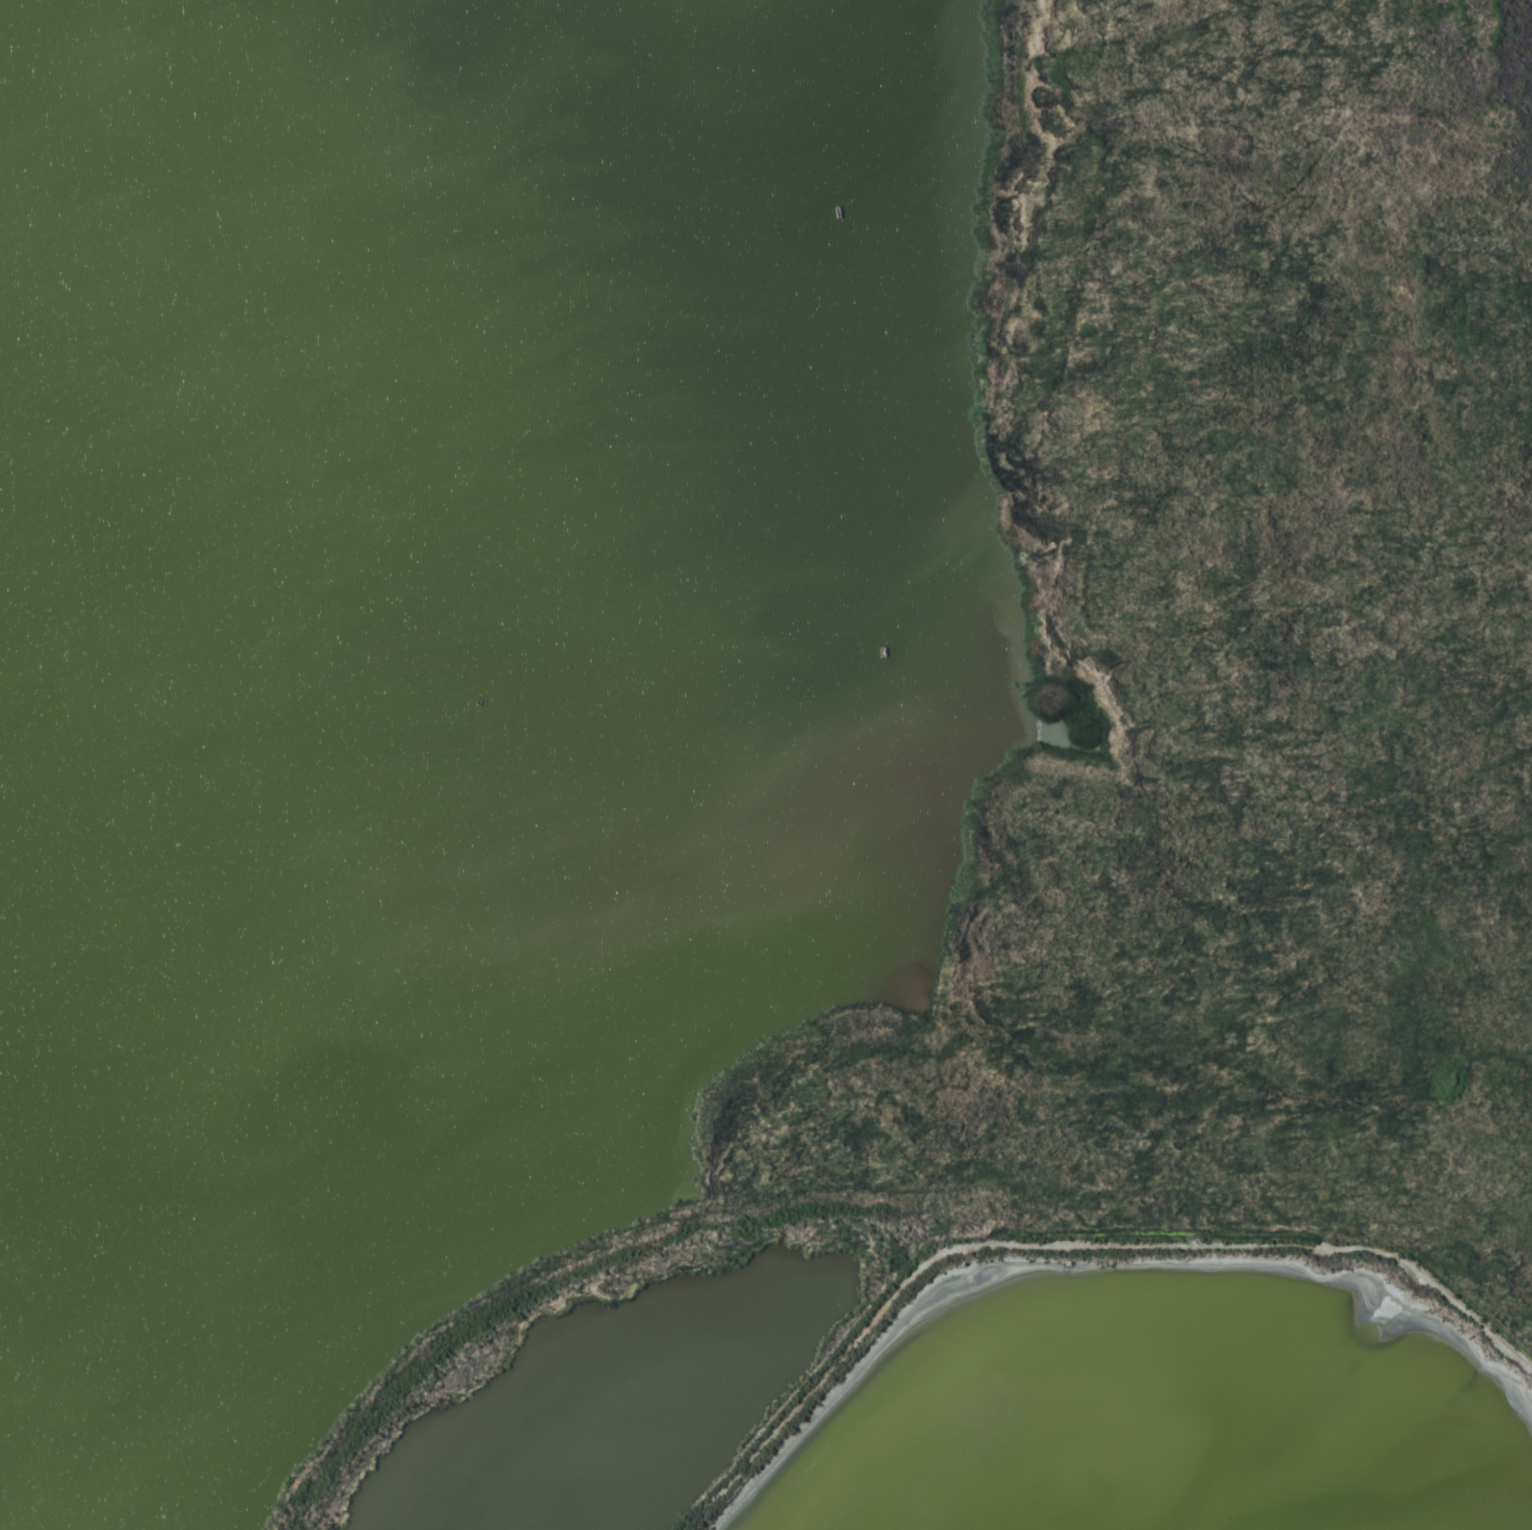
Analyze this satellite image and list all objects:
road: (1459, 1214)

